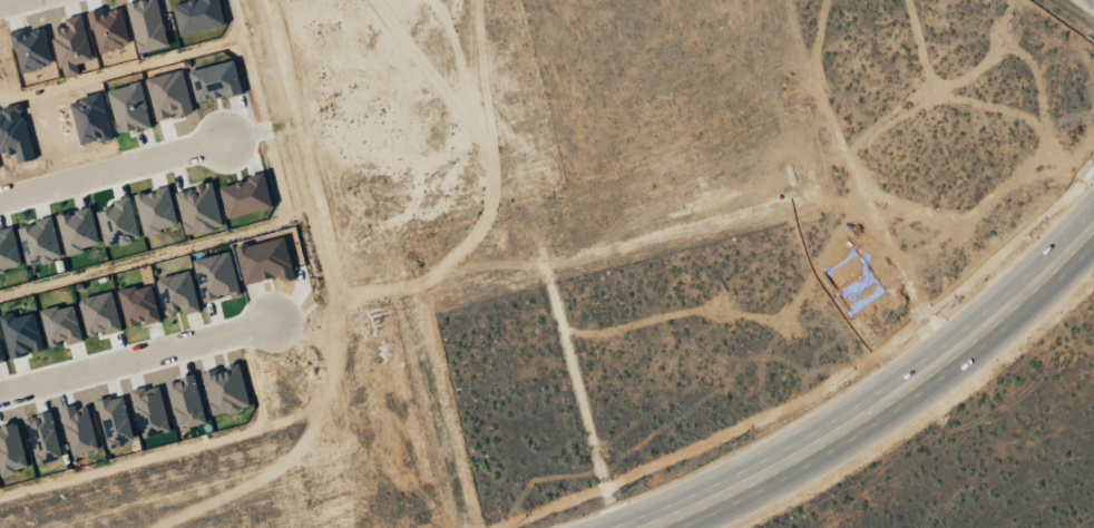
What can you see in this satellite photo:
road: (7, 1)
building: (198, 16)
building: (148, 26)
building: (109, 30)
building: (72, 46)
building: (215, 81)
building: (169, 96)
building: (129, 109)
building: (82, 117)
road: (111, 170)
building: (246, 197)
building: (199, 211)
building: (156, 212)
building: (118, 224)
building: (78, 231)
building: (40, 243)
building: (9, 252)
building: (265, 261)
building: (217, 276)
building: (178, 294)
building: (139, 306)
building: (100, 314)
building: (61, 325)
building: (21, 335)
building: (0, 356)
road: (138, 358)
building: (227, 390)
building: (188, 401)
road: (886, 401)
building: (152, 411)
building: (116, 421)
building: (80, 429)
building: (43, 438)
road: (176, 449)
building: (11, 450)

